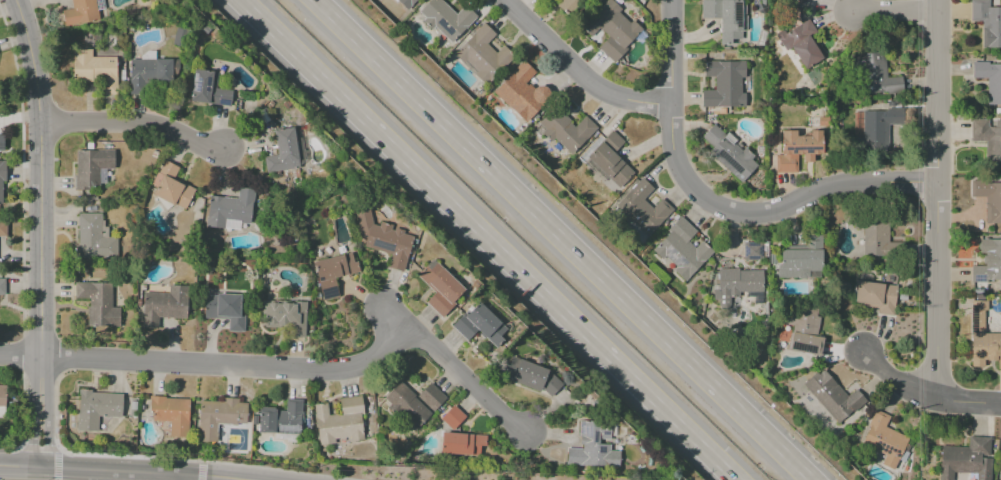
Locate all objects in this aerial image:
building: (801, 2)
building: (408, 5)
building: (568, 6)
road: (894, 10)
building: (82, 11)
rooftop solar panel: (738, 12)
building: (446, 19)
building: (728, 19)
building: (987, 23)
rooftop solar panel: (445, 29)
building: (612, 31)
building: (802, 43)
building: (484, 56)
building: (94, 70)
road: (577, 70)
building: (149, 73)
building: (878, 75)
building: (989, 79)
rooftop solar panel: (196, 82)
building: (516, 82)
rooftop solar panel: (207, 83)
building: (724, 84)
rooftop solar panel: (207, 89)
building: (208, 89)
building: (528, 104)
road: (669, 109)
building: (822, 121)
road: (137, 123)
building: (879, 128)
building: (567, 131)
building: (1, 142)
building: (985, 144)
rooftop solar panel: (805, 148)
building: (797, 149)
building: (283, 152)
building: (728, 152)
building: (612, 161)
rooftop solar panel: (731, 161)
building: (91, 166)
building: (1, 183)
building: (171, 186)
road: (822, 188)
road: (936, 198)
building: (989, 198)
building: (229, 208)
building: (643, 208)
building: (2, 228)
road: (39, 231)
building: (874, 234)
building: (92, 238)
building: (383, 238)
road: (22, 239)
road: (487, 240)
road: (562, 240)
building: (681, 251)
building: (753, 251)
building: (799, 258)
building: (986, 265)
building: (333, 272)
rooftop solar panel: (978, 277)
building: (740, 282)
building: (1, 286)
building: (439, 287)
rooftop solar panel: (327, 292)
building: (877, 297)
building: (97, 303)
building: (163, 305)
building: (224, 309)
building: (285, 316)
building: (804, 320)
rooftop solar panel: (973, 320)
building: (481, 325)
building: (983, 338)
building: (806, 344)
rooftop solar panel: (1000, 345)
rooftop solar panel: (803, 347)
road: (20, 358)
road: (314, 368)
building: (530, 376)
road: (928, 390)
building: (431, 396)
building: (833, 396)
building: (2, 397)
building: (406, 405)
building: (96, 408)
building: (171, 414)
building: (219, 416)
building: (452, 417)
building: (280, 418)
building: (339, 422)
building: (888, 442)
building: (461, 443)
road: (55, 446)
building: (592, 447)
rooftop solar panel: (886, 449)
road: (167, 458)
building: (966, 458)
road: (200, 470)
road: (121, 471)
building: (1000, 473)
road: (179, 477)
road: (1, 479)

